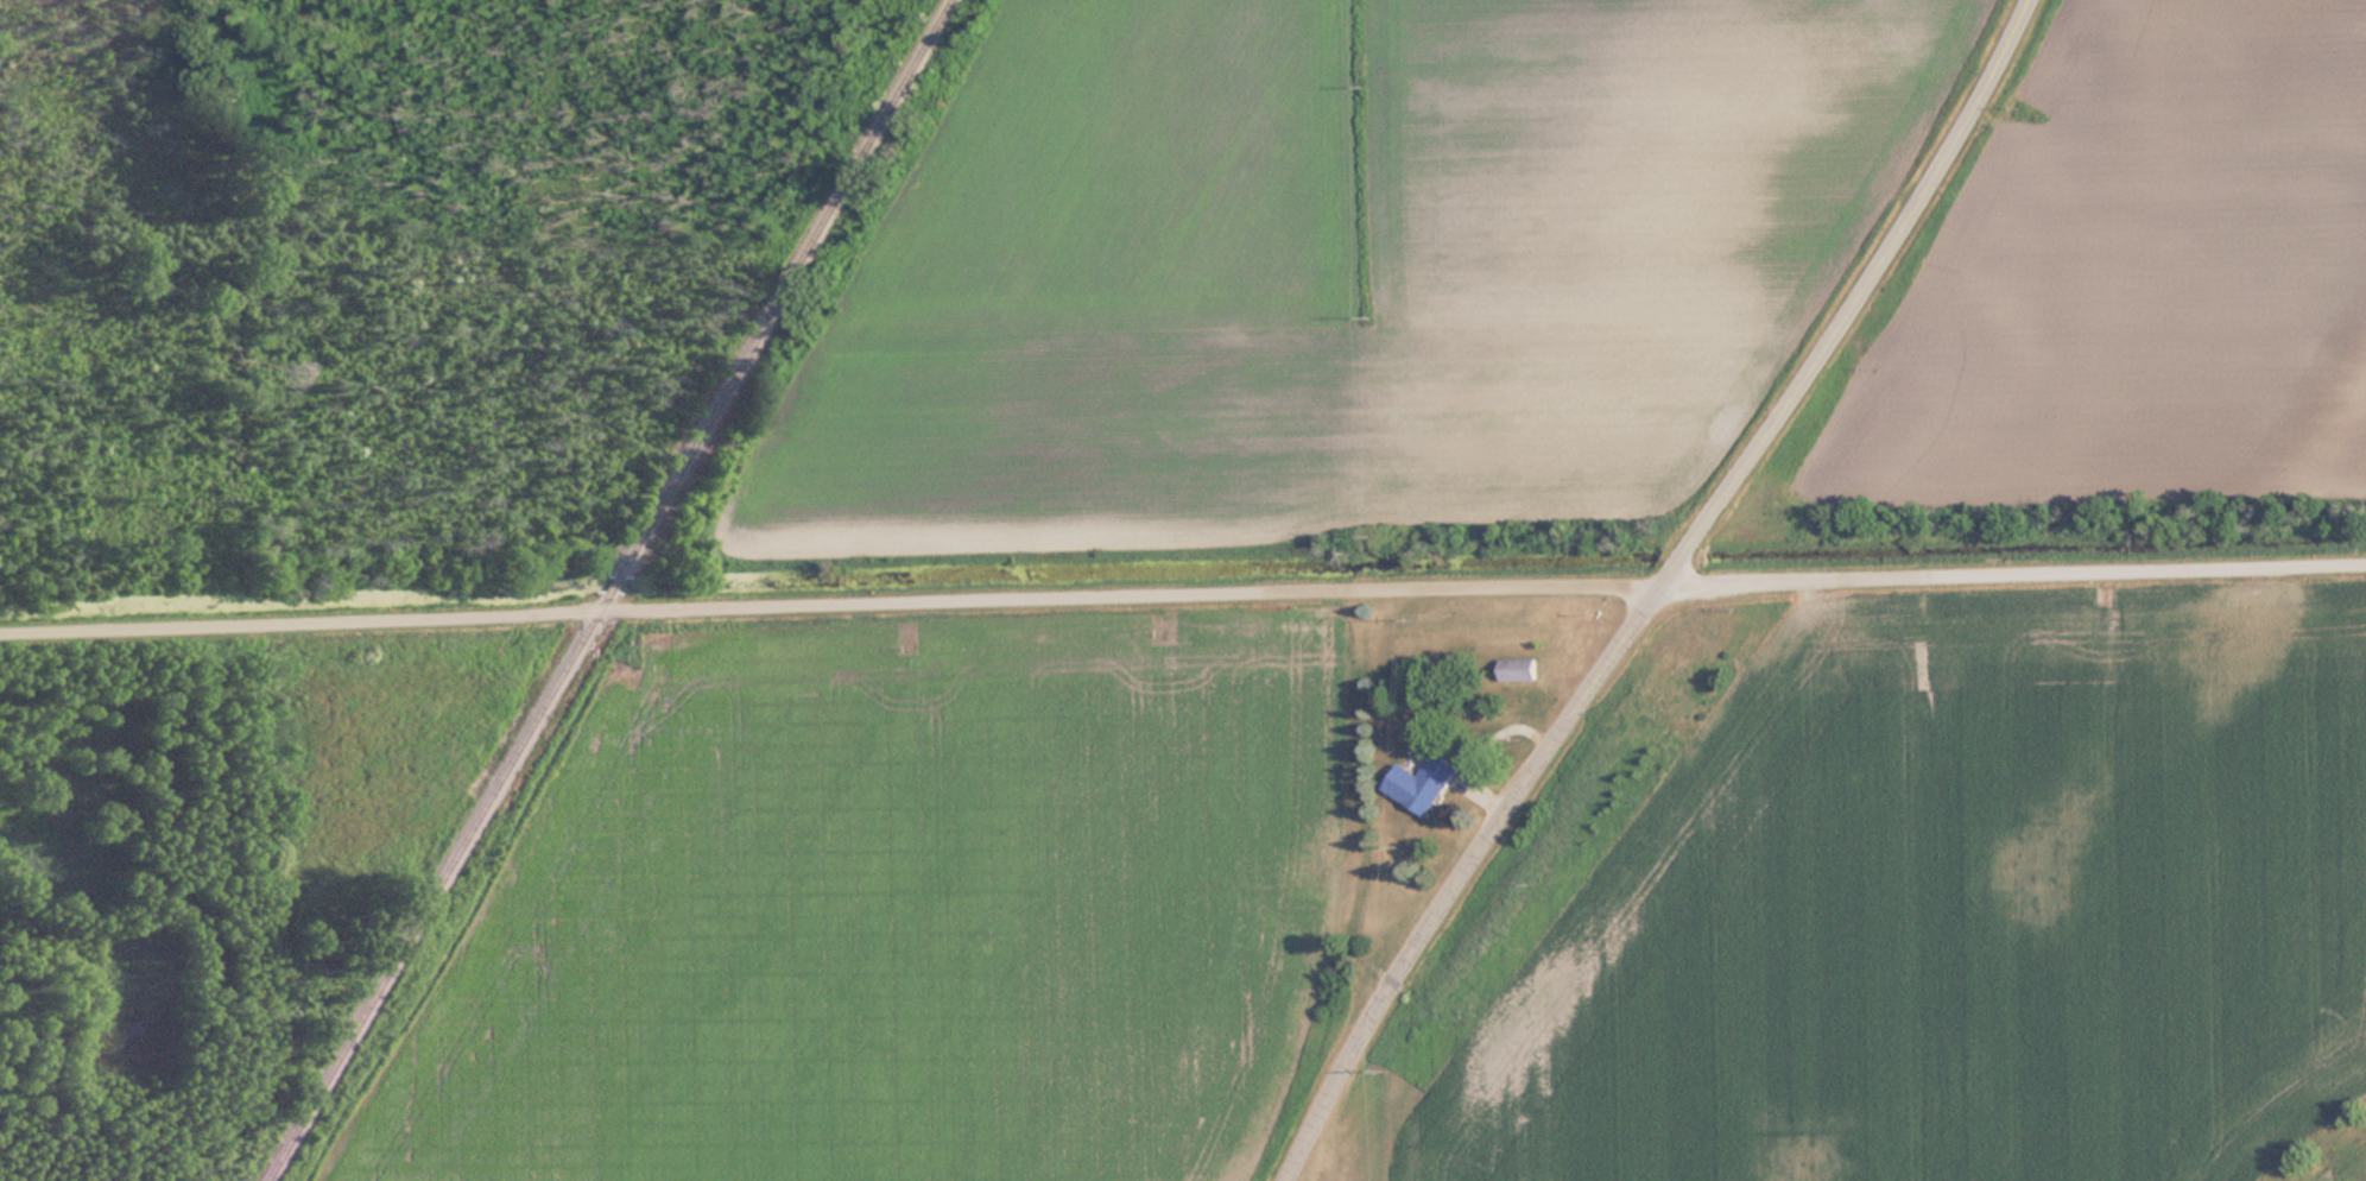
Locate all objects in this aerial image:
railway: (783, 288)
railway: (611, 585)
road: (1182, 593)
road: (1664, 593)
building: (1518, 669)
building: (1422, 783)
railway: (436, 886)

